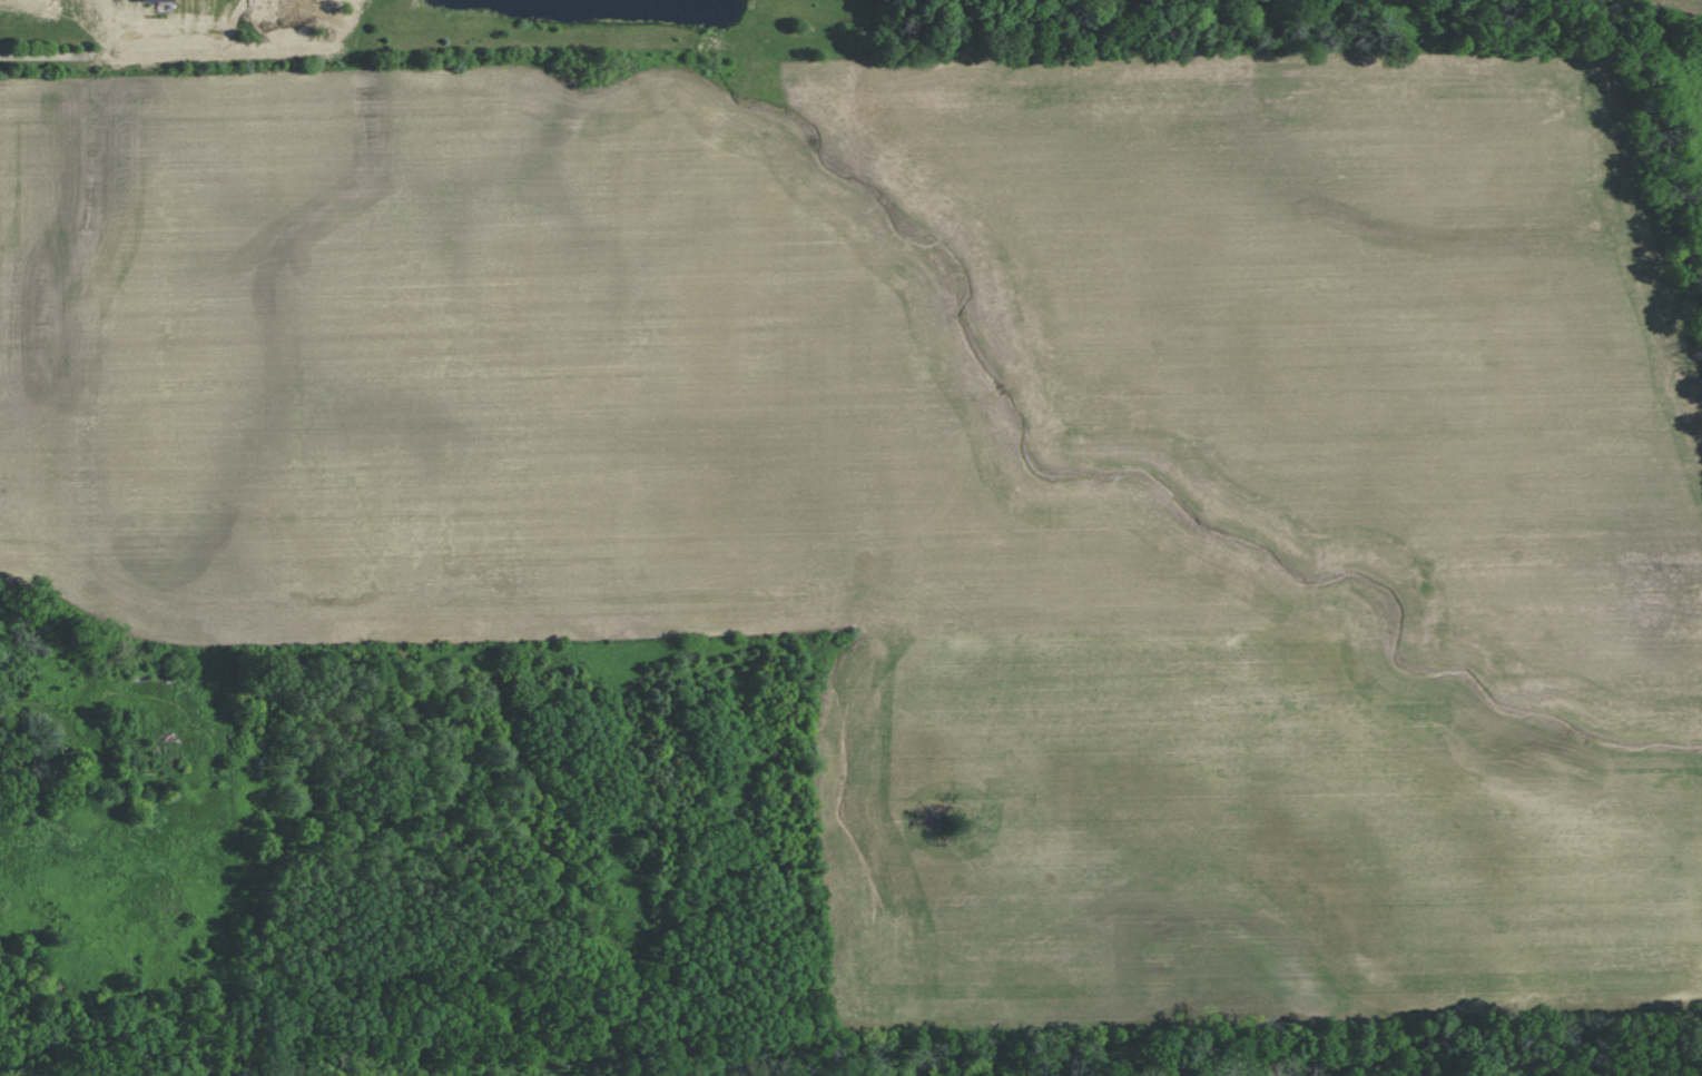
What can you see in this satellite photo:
building: (155, 0)
road: (131, 52)

